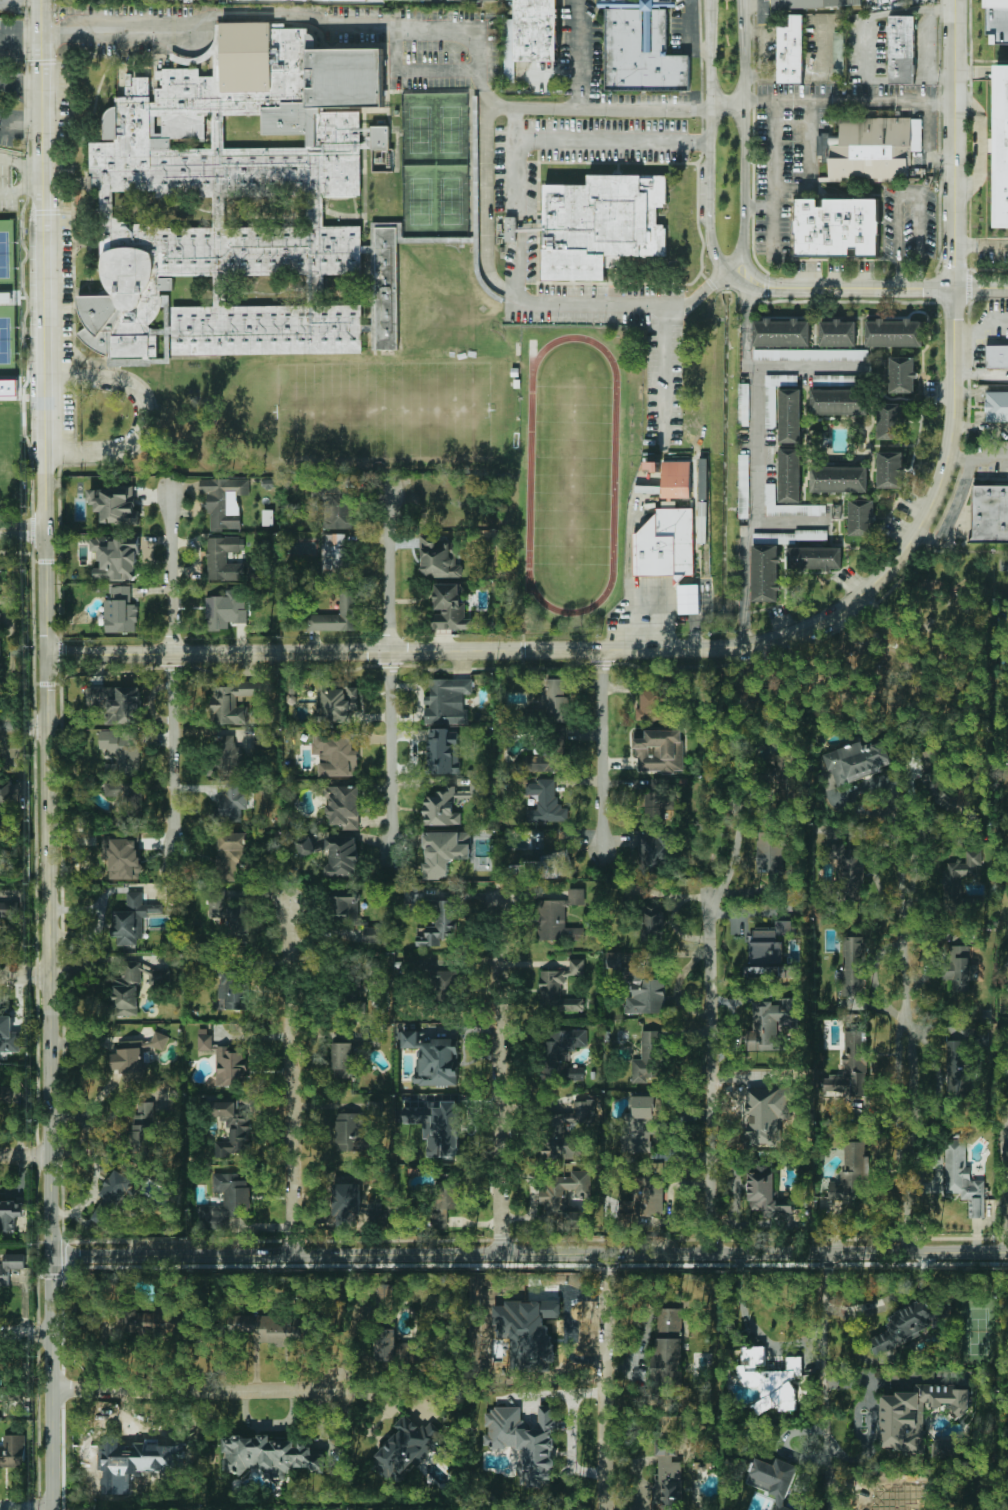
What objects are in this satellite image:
building: (356, 0)
building: (470, 0)
building: (661, 0)
building: (809, 4)
road: (754, 6)
road: (939, 8)
road: (910, 11)
road: (42, 18)
building: (997, 20)
road: (402, 28)
building: (537, 30)
building: (646, 30)
road: (688, 35)
road: (21, 36)
building: (902, 50)
building: (791, 51)
road: (577, 54)
building: (641, 55)
road: (766, 55)
road: (42, 62)
road: (511, 62)
building: (510, 66)
road: (418, 69)
road: (972, 73)
road: (21, 88)
road: (848, 101)
road: (726, 104)
road: (45, 107)
road: (22, 127)
road: (743, 128)
park: (421, 129)
park: (451, 129)
road: (709, 137)
road: (578, 140)
road: (927, 143)
road: (978, 143)
building: (1003, 145)
building: (867, 147)
road: (486, 154)
road: (811, 162)
road: (22, 164)
road: (774, 176)
road: (21, 188)
road: (908, 194)
building: (225, 197)
park: (420, 201)
park: (451, 201)
road: (758, 207)
building: (601, 224)
building: (837, 226)
building: (509, 229)
road: (981, 245)
road: (733, 265)
road: (518, 268)
road: (896, 276)
road: (759, 277)
road: (920, 277)
road: (896, 287)
road: (751, 288)
road: (45, 290)
road: (572, 306)
road: (991, 321)
road: (745, 327)
road: (966, 329)
building: (781, 332)
building: (837, 332)
building: (894, 332)
park: (6, 348)
road: (978, 351)
building: (811, 355)
building: (997, 355)
road: (804, 366)
road: (663, 374)
building: (902, 374)
road: (981, 375)
building: (840, 380)
road: (981, 389)
building: (774, 394)
building: (839, 400)
building: (743, 404)
building: (997, 405)
park: (380, 411)
road: (144, 415)
building: (790, 415)
building: (889, 420)
road: (969, 426)
road: (995, 428)
building: (15, 446)
road: (978, 461)
building: (652, 464)
building: (889, 468)
track: (529, 474)
building: (790, 474)
road: (757, 477)
building: (839, 479)
building: (743, 485)
building: (224, 501)
building: (115, 505)
building: (789, 505)
building: (335, 506)
building: (836, 510)
building: (990, 513)
road: (951, 514)
building: (861, 516)
building: (268, 517)
road: (22, 528)
building: (667, 529)
building: (793, 537)
road: (956, 551)
building: (336, 554)
building: (814, 556)
building: (116, 557)
building: (224, 558)
building: (439, 558)
building: (1004, 564)
building: (765, 572)
road: (743, 581)
building: (449, 607)
building: (226, 609)
building: (120, 611)
building: (336, 616)
road: (694, 618)
building: (934, 620)
building: (0, 624)
road: (942, 636)
road: (771, 639)
building: (0, 648)
park: (891, 649)
road: (948, 658)
road: (920, 670)
road: (171, 671)
road: (389, 673)
building: (657, 694)
building: (446, 700)
building: (551, 700)
building: (233, 701)
building: (336, 701)
building: (117, 703)
road: (22, 725)
building: (264, 736)
building: (434, 745)
road: (600, 749)
building: (658, 749)
building: (123, 750)
building: (336, 753)
building: (227, 754)
building: (933, 758)
building: (856, 760)
building: (541, 762)
building: (787, 775)
building: (6, 790)
building: (125, 798)
building: (233, 801)
building: (546, 801)
building: (657, 801)
building: (448, 804)
building: (344, 806)
building: (306, 847)
building: (777, 849)
building: (444, 852)
building: (230, 854)
building: (662, 855)
building: (343, 856)
road: (734, 857)
building: (124, 858)
building: (847, 871)
building: (961, 871)
building: (414, 898)
building: (786, 904)
building: (345, 906)
building: (132, 918)
building: (559, 918)
building: (233, 920)
building: (653, 920)
building: (440, 924)
building: (959, 933)
building: (372, 934)
building: (768, 949)
road: (79, 954)
building: (853, 965)
building: (959, 969)
road: (23, 974)
road: (47, 981)
building: (444, 981)
building: (560, 988)
building: (127, 990)
building: (233, 990)
building: (641, 990)
building: (350, 1002)
building: (773, 1016)
building: (1007, 1022)
building: (8, 1035)
building: (562, 1053)
road: (908, 1053)
building: (135, 1056)
building: (648, 1057)
building: (434, 1059)
building: (343, 1060)
building: (225, 1061)
building: (852, 1066)
building: (957, 1068)
road: (291, 1070)
road: (504, 1075)
road: (713, 1076)
building: (145, 1110)
building: (638, 1123)
building: (436, 1125)
building: (232, 1128)
road: (84, 1129)
building: (349, 1131)
building: (571, 1131)
building: (141, 1133)
road: (24, 1156)
building: (851, 1174)
building: (963, 1177)
building: (565, 1195)
building: (767, 1195)
building: (112, 1196)
building: (650, 1196)
building: (446, 1197)
building: (225, 1202)
building: (353, 1203)
building: (10, 1213)
road: (1005, 1217)
road: (529, 1257)
building: (10, 1266)
road: (611, 1287)
building: (384, 1305)
building: (152, 1320)
building: (905, 1326)
building: (271, 1327)
road: (753, 1327)
building: (527, 1330)
road: (25, 1333)
building: (668, 1343)
building: (395, 1350)
building: (770, 1380)
road: (820, 1383)
building: (4, 1388)
road: (203, 1389)
road: (608, 1413)
building: (917, 1414)
building: (525, 1441)
building: (945, 1446)
building: (407, 1447)
building: (13, 1451)
building: (269, 1455)
building: (667, 1477)
building: (115, 1478)
building: (774, 1479)
road: (25, 1508)

